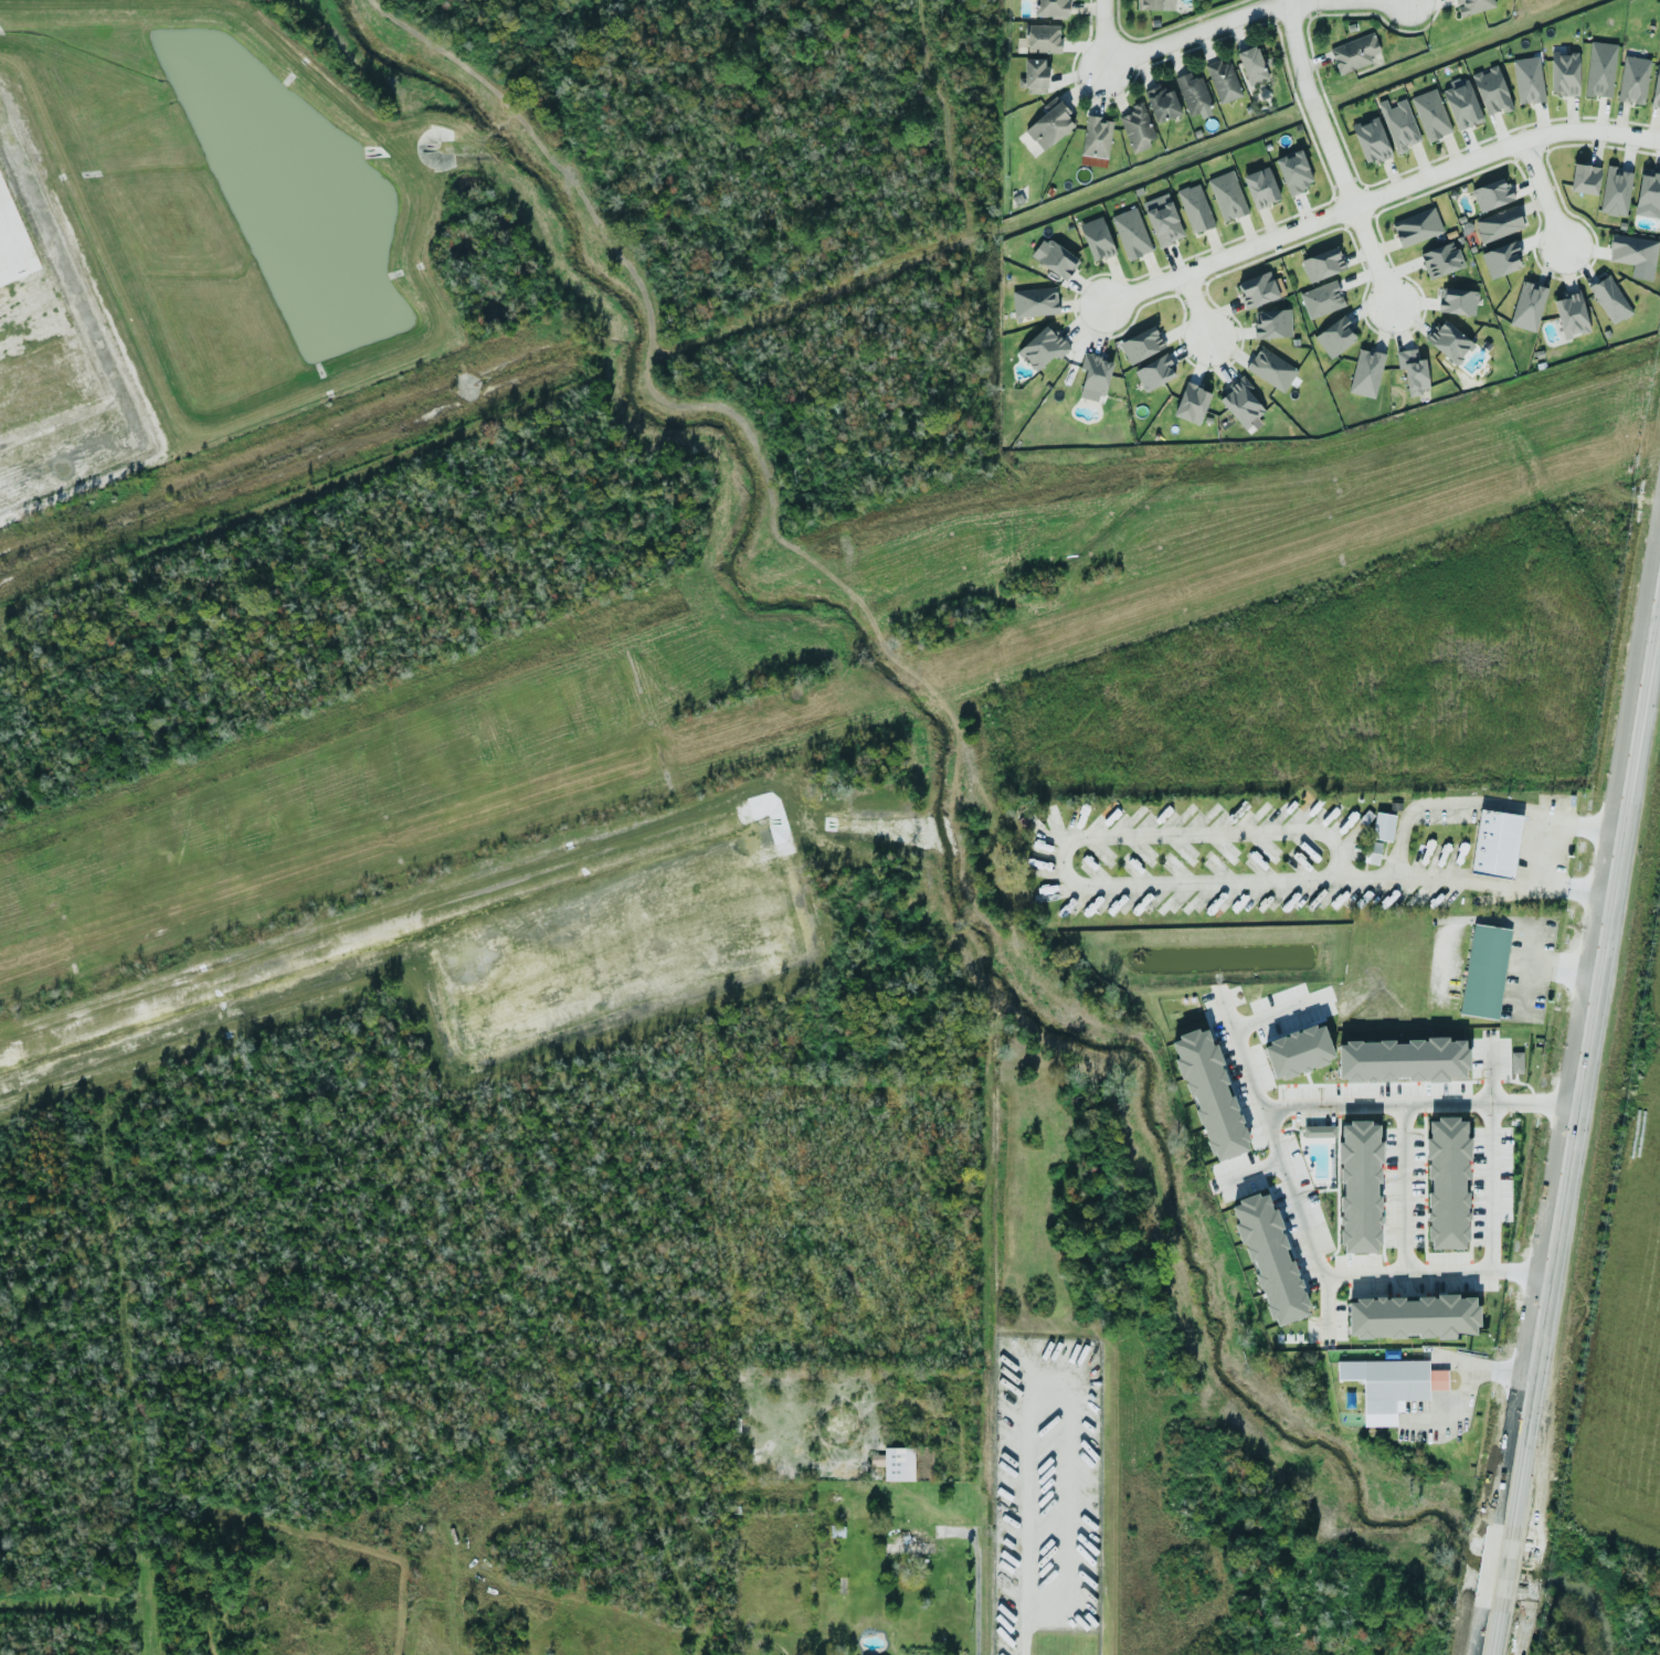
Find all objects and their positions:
road: (1288, 0)
road: (1297, 0)
building: (1154, 4)
building: (1472, 6)
building: (1050, 8)
road: (1192, 30)
road: (1099, 34)
building: (1042, 38)
building: (1354, 53)
building: (1251, 65)
building: (1599, 68)
building: (1564, 73)
building: (1034, 75)
building: (1527, 79)
building: (1632, 79)
building: (1223, 81)
building: (1656, 88)
building: (1491, 91)
building: (1194, 95)
building: (1161, 104)
building: (1461, 105)
building: (1430, 114)
building: (1049, 124)
building: (1398, 124)
building: (1136, 128)
road: (1590, 130)
building: (1096, 137)
building: (1371, 140)
road: (1329, 156)
building: (1293, 171)
building: (1584, 179)
building: (1260, 188)
road: (1541, 191)
building: (1615, 191)
building: (1491, 194)
building: (1648, 194)
building: (1227, 195)
building: (1194, 208)
road: (1310, 219)
building: (1498, 223)
building: (1164, 224)
building: (1417, 226)
building: (1131, 233)
building: (1097, 238)
building: (1633, 254)
building: (1057, 259)
building: (1440, 259)
building: (1500, 259)
building: (1322, 264)
building: (1257, 289)
building: (1321, 299)
building: (1609, 299)
building: (1457, 300)
building: (1034, 301)
road: (1195, 304)
building: (1527, 306)
building: (1571, 315)
building: (1272, 323)
building: (1335, 337)
building: (1448, 341)
building: (1141, 344)
building: (1042, 348)
building: (1271, 369)
building: (1413, 371)
building: (1154, 372)
building: (1365, 373)
building: (1093, 376)
building: (1191, 403)
building: (1241, 404)
road: (1483, 804)
building: (1383, 826)
road: (1065, 846)
building: (1495, 849)
building: (1372, 852)
road: (1478, 887)
road: (1565, 967)
road: (1526, 968)
building: (1484, 975)
road: (1271, 1016)
building: (1303, 1044)
building: (1406, 1054)
building: (1515, 1062)
road: (1585, 1071)
road: (1490, 1073)
building: (1215, 1090)
road: (1357, 1104)
building: (1318, 1131)
road: (1248, 1171)
building: (1452, 1178)
building: (1364, 1182)
road: (1404, 1188)
road: (1490, 1217)
road: (1303, 1220)
building: (1277, 1259)
road: (1407, 1271)
building: (1415, 1324)
road: (1462, 1364)
road: (1506, 1372)
road: (1439, 1380)
building: (1391, 1389)
road: (1458, 1396)
building: (898, 1463)
building: (833, 1497)
road: (1022, 1528)
building: (907, 1547)
road: (1503, 1570)
road: (975, 1583)
road: (1493, 1635)

